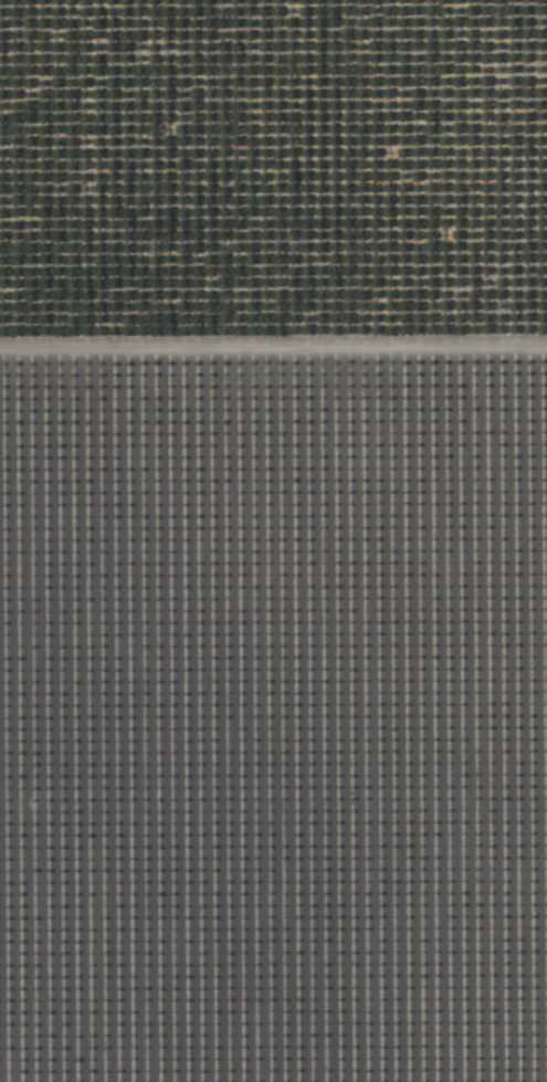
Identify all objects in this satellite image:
crop: (273, 540)

